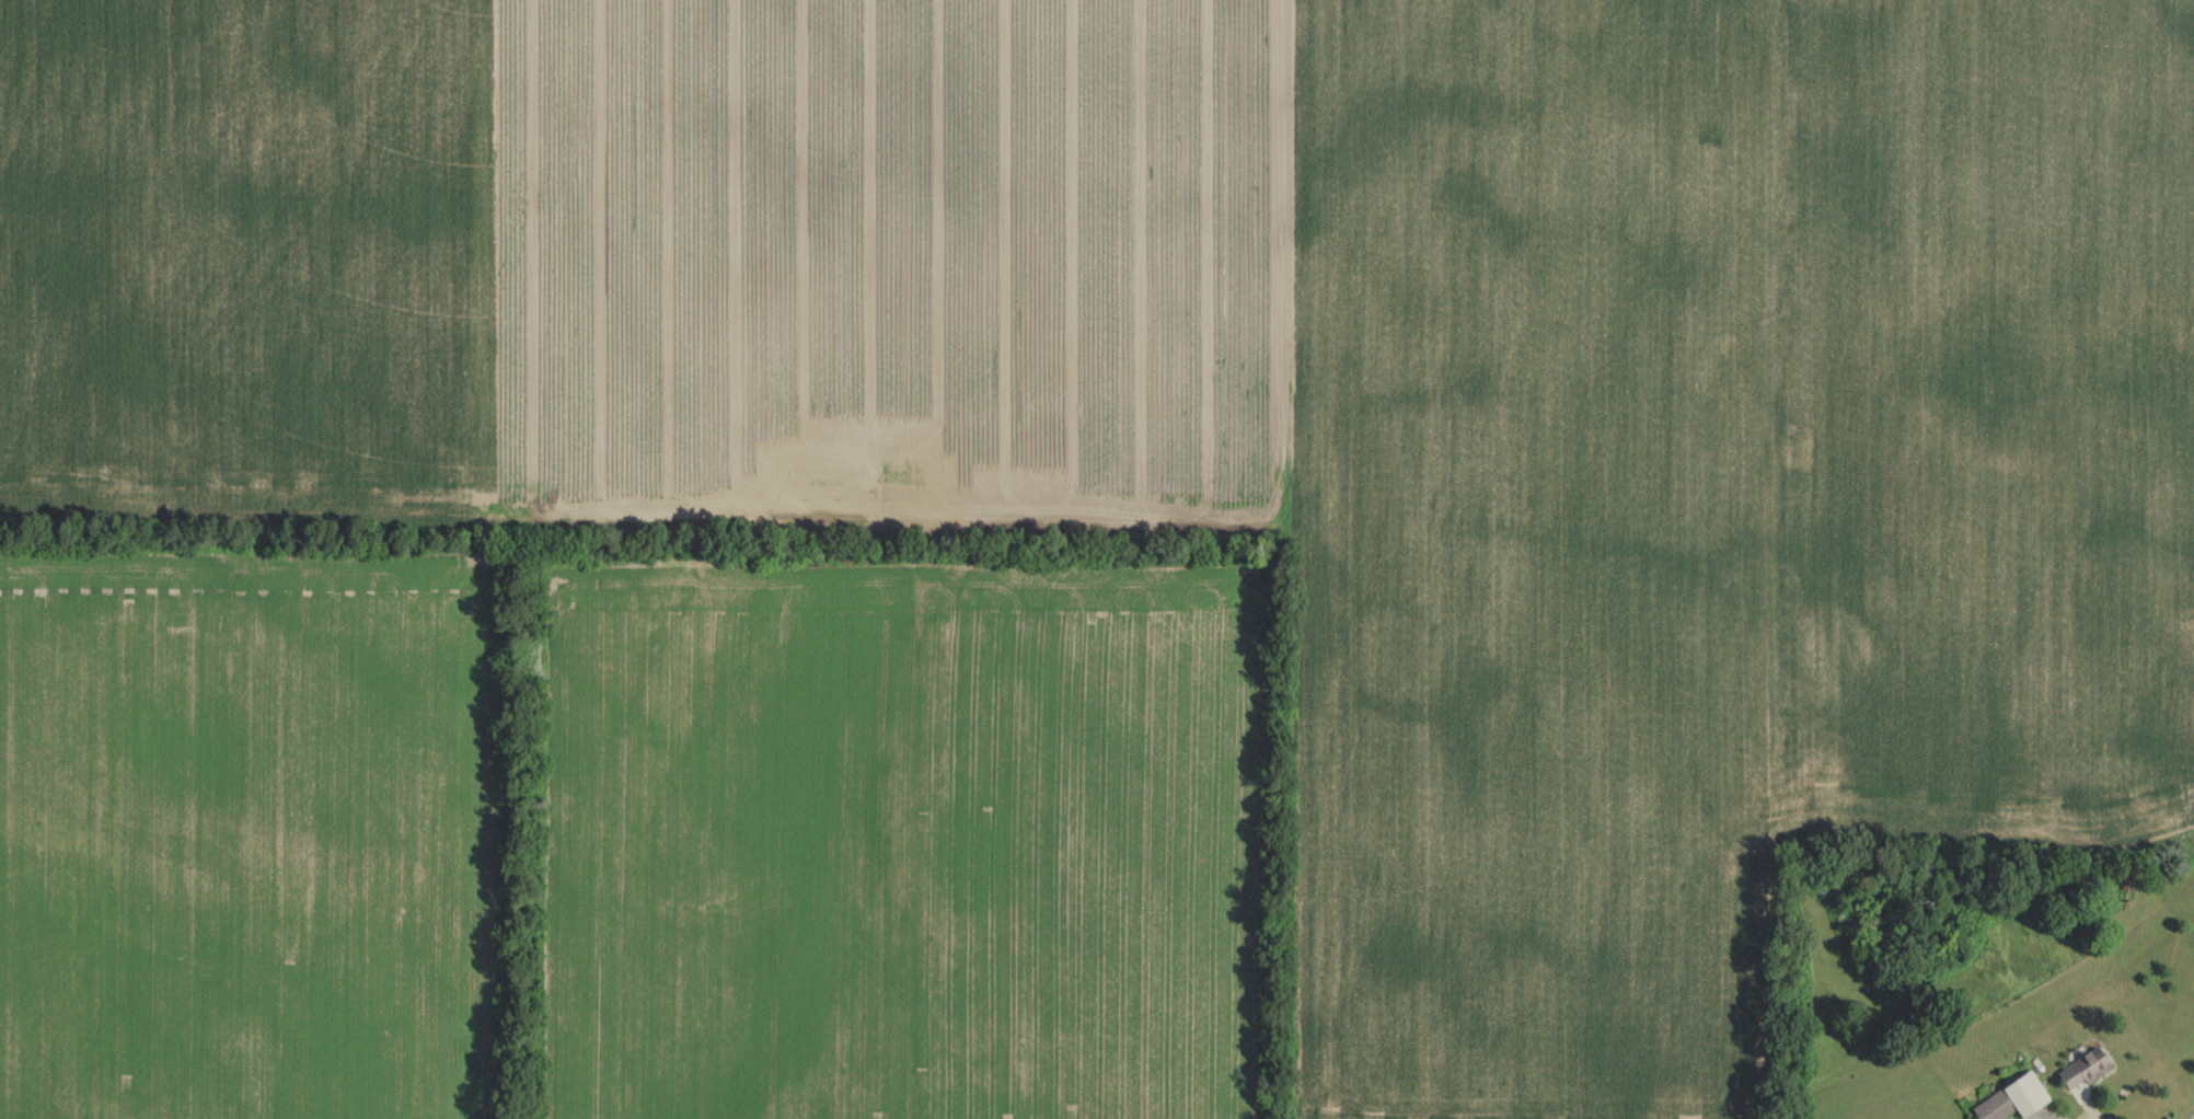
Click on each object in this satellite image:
building: (2081, 1069)
building: (2006, 1100)

